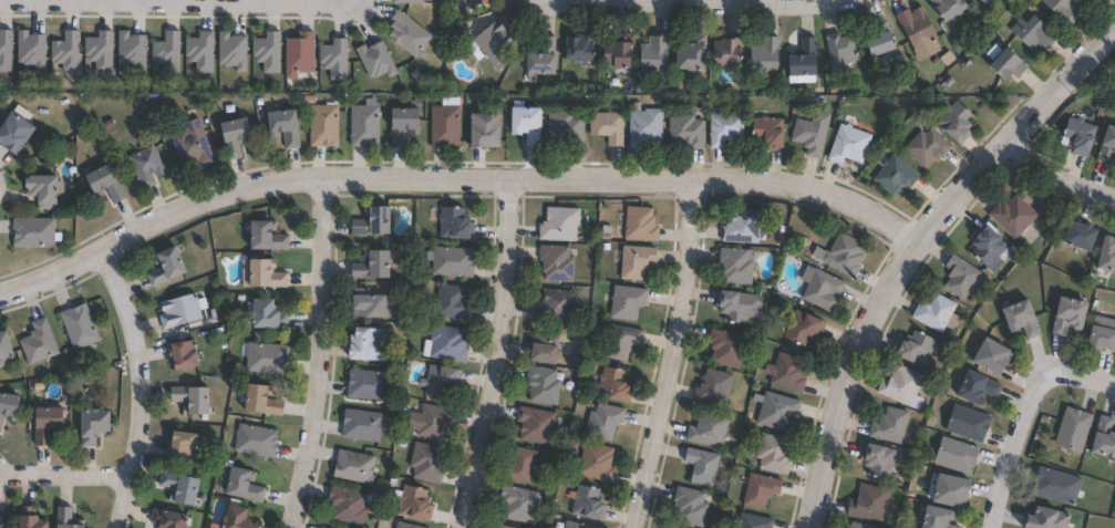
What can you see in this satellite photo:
building: (400, 1)
building: (974, 1)
building: (980, 1)
building: (479, 2)
road: (175, 3)
road: (717, 6)
building: (942, 9)
building: (1060, 9)
building: (910, 27)
building: (1029, 32)
building: (403, 35)
building: (871, 39)
building: (494, 42)
building: (25, 50)
building: (582, 50)
building: (3, 51)
building: (94, 51)
building: (127, 51)
building: (228, 51)
building: (837, 51)
building: (61, 52)
building: (163, 52)
building: (196, 52)
building: (262, 52)
building: (731, 54)
building: (293, 55)
building: (655, 56)
building: (695, 56)
building: (330, 59)
building: (544, 59)
building: (622, 59)
building: (765, 59)
building: (371, 61)
building: (806, 61)
building: (999, 62)
building: (949, 122)
building: (445, 124)
building: (528, 124)
building: (324, 126)
building: (364, 126)
building: (405, 126)
building: (608, 127)
building: (646, 127)
building: (287, 128)
building: (566, 128)
building: (725, 130)
building: (766, 131)
building: (488, 132)
building: (688, 132)
building: (16, 134)
building: (807, 135)
building: (1074, 135)
building: (237, 137)
building: (844, 144)
building: (1103, 144)
building: (192, 145)
building: (922, 146)
building: (146, 167)
building: (890, 176)
road: (454, 182)
building: (106, 184)
road: (1054, 187)
building: (44, 191)
building: (1008, 216)
building: (374, 219)
building: (455, 224)
building: (560, 224)
building: (640, 224)
building: (743, 226)
building: (33, 234)
building: (268, 235)
building: (1071, 236)
building: (983, 249)
road: (917, 250)
building: (845, 255)
building: (1103, 256)
building: (636, 260)
building: (452, 261)
building: (557, 262)
building: (374, 263)
building: (736, 265)
building: (166, 268)
building: (267, 272)
building: (954, 277)
building: (823, 289)
building: (452, 301)
building: (628, 301)
building: (556, 304)
building: (740, 304)
building: (372, 306)
building: (182, 310)
building: (267, 312)
building: (931, 312)
building: (1061, 315)
building: (1014, 319)
building: (79, 325)
building: (804, 327)
building: (1096, 334)
building: (620, 341)
building: (39, 342)
building: (448, 343)
building: (368, 344)
building: (545, 346)
building: (4, 348)
building: (726, 349)
building: (909, 349)
building: (184, 353)
road: (321, 355)
road: (497, 356)
building: (983, 356)
building: (267, 358)
road: (673, 358)
building: (788, 372)
building: (441, 380)
building: (371, 384)
building: (543, 384)
building: (615, 385)
building: (714, 387)
building: (897, 387)
road: (142, 389)
building: (969, 389)
building: (193, 398)
building: (262, 400)
building: (9, 405)
building: (777, 410)
building: (433, 421)
building: (605, 421)
building: (48, 424)
building: (963, 424)
building: (95, 425)
building: (363, 425)
building: (536, 425)
building: (885, 425)
road: (1031, 425)
building: (710, 428)
building: (1068, 429)
building: (1099, 439)
building: (256, 441)
building: (183, 445)
building: (774, 453)
building: (951, 455)
building: (426, 462)
building: (597, 462)
building: (873, 462)
building: (520, 465)
building: (703, 466)
building: (354, 467)
road: (66, 478)
building: (245, 485)
building: (1051, 486)
building: (180, 487)
building: (761, 490)
building: (942, 491)
building: (414, 503)
building: (586, 503)
building: (520, 504)
building: (864, 504)
building: (348, 505)
building: (690, 506)
building: (65, 517)
building: (239, 517)
building: (32, 518)
building: (168, 518)
building: (929, 518)
building: (1040, 519)
building: (752, 521)
building: (576, 525)
building: (0, 526)
building: (404, 526)
building: (851, 526)
building: (322, 527)
building: (504, 527)
building: (670, 527)
building: (674, 527)

